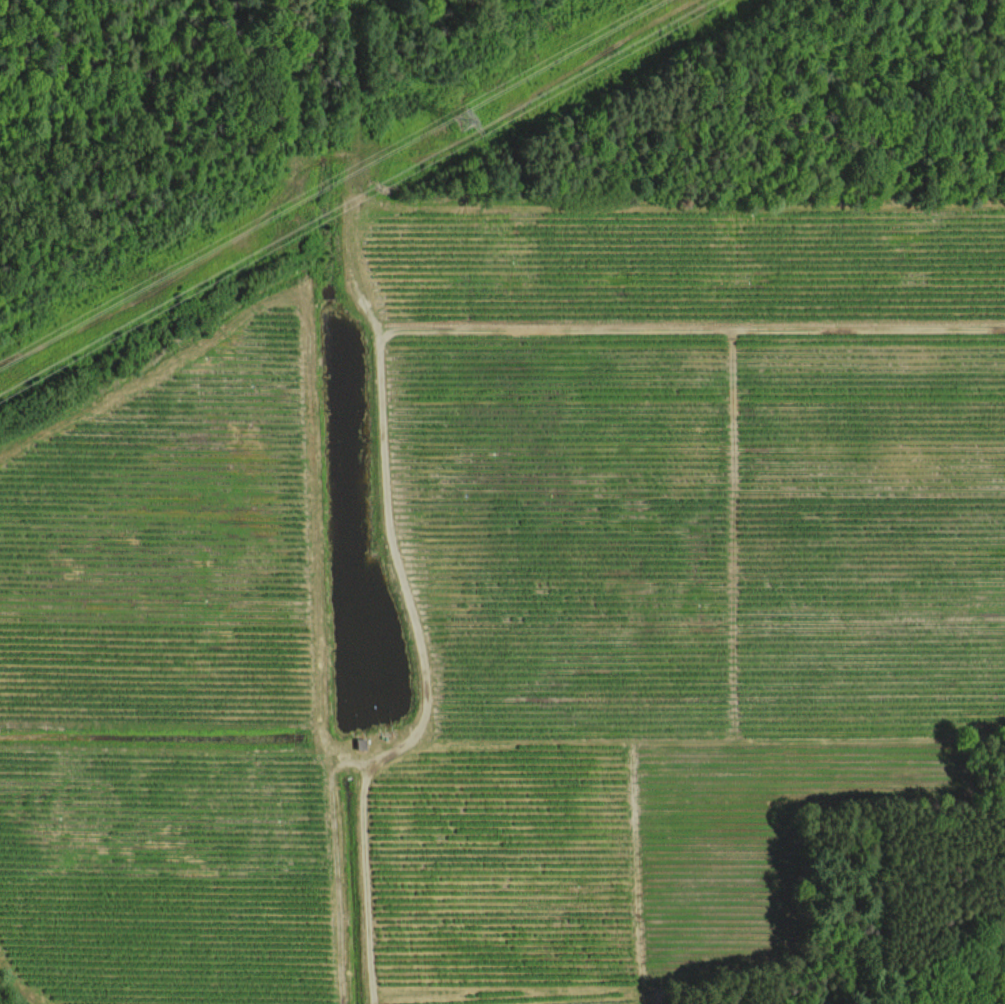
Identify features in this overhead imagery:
power tower: (461, 122)

